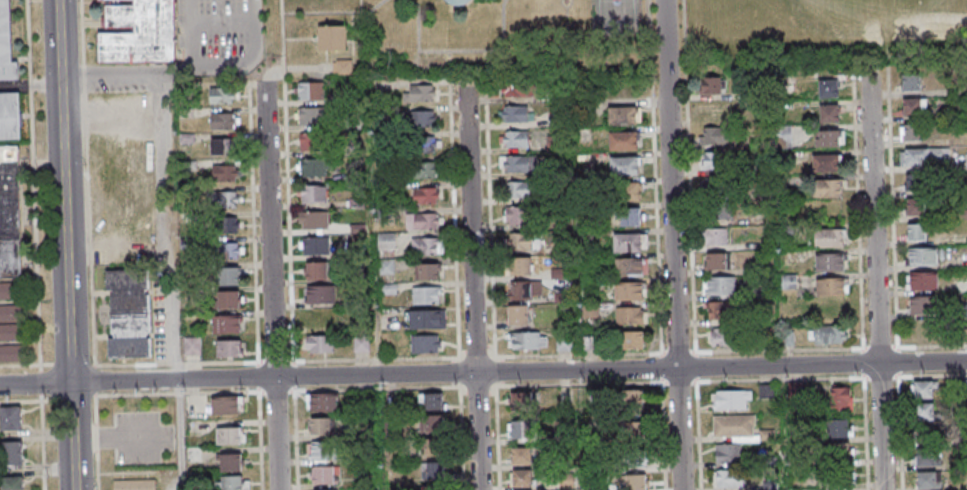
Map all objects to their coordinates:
building: (473, 0)
building: (460, 2)
road: (415, 6)
road: (334, 11)
park: (887, 12)
building: (138, 31)
building: (334, 37)
road: (58, 39)
building: (6, 45)
road: (467, 49)
road: (449, 62)
road: (485, 63)
building: (911, 81)
building: (786, 82)
building: (712, 84)
building: (518, 87)
building: (828, 88)
building: (310, 91)
building: (419, 92)
building: (222, 95)
building: (352, 97)
building: (959, 105)
building: (914, 106)
building: (582, 109)
building: (186, 111)
building: (122, 112)
building: (515, 113)
building: (829, 113)
building: (10, 115)
building: (622, 115)
building: (312, 117)
building: (423, 118)
building: (352, 120)
building: (556, 120)
building: (222, 121)
building: (911, 131)
building: (717, 135)
building: (782, 135)
building: (186, 137)
building: (516, 137)
building: (829, 137)
building: (624, 140)
building: (312, 143)
building: (422, 144)
building: (222, 146)
building: (120, 155)
building: (924, 155)
building: (966, 158)
building: (712, 160)
building: (383, 161)
building: (826, 162)
building: (522, 163)
building: (189, 164)
building: (624, 164)
building: (314, 168)
building: (420, 168)
building: (223, 172)
road: (172, 175)
road: (689, 176)
road: (654, 177)
road: (287, 181)
building: (917, 182)
building: (710, 184)
road: (33, 185)
building: (383, 185)
building: (828, 187)
building: (519, 189)
building: (960, 189)
building: (628, 190)
building: (314, 194)
building: (425, 194)
road: (87, 196)
building: (121, 198)
building: (225, 199)
road: (888, 199)
building: (356, 201)
building: (916, 206)
building: (718, 209)
road: (855, 210)
building: (10, 211)
building: (384, 214)
building: (962, 214)
building: (515, 215)
building: (630, 215)
road: (453, 216)
road: (489, 217)
building: (313, 220)
building: (423, 220)
road: (253, 221)
building: (226, 223)
building: (786, 229)
building: (916, 231)
building: (827, 237)
building: (587, 238)
building: (716, 238)
building: (126, 239)
building: (386, 239)
building: (524, 241)
building: (629, 241)
building: (426, 245)
road: (679, 245)
building: (315, 246)
building: (226, 250)
building: (922, 256)
building: (716, 261)
building: (830, 262)
building: (386, 266)
building: (519, 266)
building: (630, 266)
building: (760, 267)
building: (317, 271)
building: (426, 271)
building: (559, 273)
building: (229, 275)
building: (922, 280)
building: (789, 281)
road: (874, 283)
road: (67, 284)
road: (477, 284)
building: (588, 284)
road: (271, 285)
building: (719, 285)
building: (831, 286)
building: (389, 287)
building: (528, 289)
building: (628, 290)
building: (10, 291)
building: (762, 292)
building: (320, 294)
building: (426, 294)
building: (562, 295)
building: (229, 299)
building: (923, 305)
building: (720, 309)
building: (591, 310)
building: (10, 312)
building: (128, 313)
building: (518, 314)
building: (631, 315)
building: (427, 318)
building: (322, 319)
building: (226, 323)
building: (10, 330)
building: (923, 332)
building: (828, 334)
building: (725, 336)
building: (788, 337)
building: (527, 340)
building: (633, 340)
building: (563, 342)
building: (588, 342)
building: (361, 343)
building: (425, 343)
building: (319, 344)
road: (874, 344)
road: (888, 344)
building: (191, 345)
building: (228, 347)
road: (490, 347)
road: (475, 349)
road: (778, 349)
building: (11, 352)
road: (461, 352)
road: (594, 353)
road: (373, 359)
road: (501, 359)
road: (452, 360)
road: (275, 361)
road: (177, 363)
road: (501, 372)
road: (452, 373)
road: (483, 373)
road: (40, 382)
road: (459, 388)
road: (495, 388)
building: (922, 389)
building: (766, 390)
road: (477, 393)
road: (62, 398)
building: (841, 398)
road: (47, 399)
building: (733, 399)
building: (322, 401)
building: (431, 401)
building: (523, 401)
building: (634, 401)
building: (227, 404)
road: (95, 408)
building: (927, 412)
building: (11, 418)
building: (321, 425)
building: (433, 425)
building: (738, 427)
building: (839, 428)
building: (521, 429)
building: (637, 432)
road: (113, 435)
building: (230, 435)
parking lot: (141, 436)
road: (95, 437)
road: (43, 441)
building: (435, 448)
building: (321, 449)
building: (727, 452)
building: (13, 453)
building: (840, 453)
building: (194, 454)
building: (522, 455)
building: (925, 457)
building: (635, 459)
building: (231, 462)
road: (96, 470)
building: (434, 471)
building: (326, 474)
building: (522, 478)
building: (729, 478)
building: (927, 479)
building: (234, 482)
building: (637, 482)
building: (13, 483)
building: (135, 484)
building: (321, 489)
building: (841, 489)

